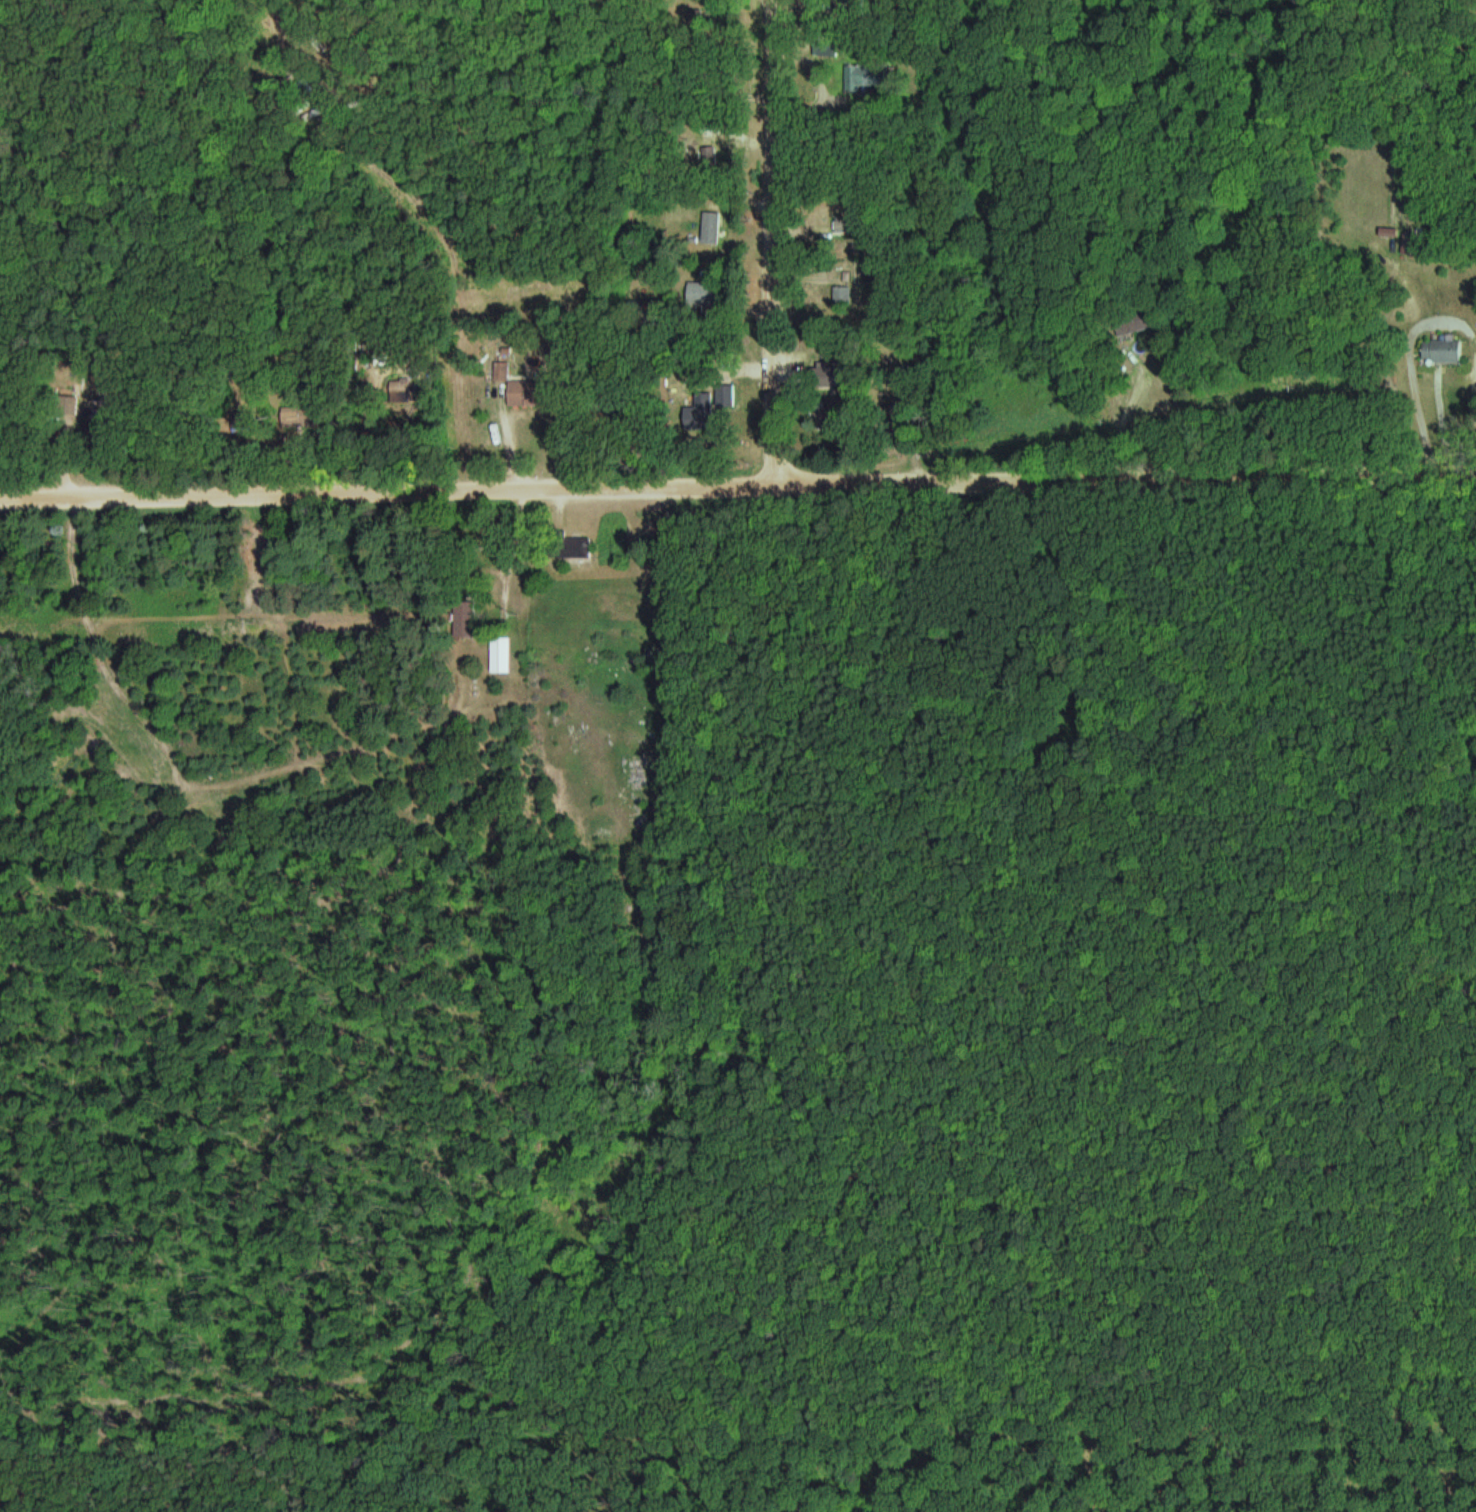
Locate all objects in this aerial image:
building: (713, 227)
road: (779, 241)
building: (844, 295)
building: (1444, 350)
building: (526, 393)
building: (728, 395)
building: (702, 414)
road: (737, 483)
road: (892, 542)
building: (576, 547)
building: (502, 654)

